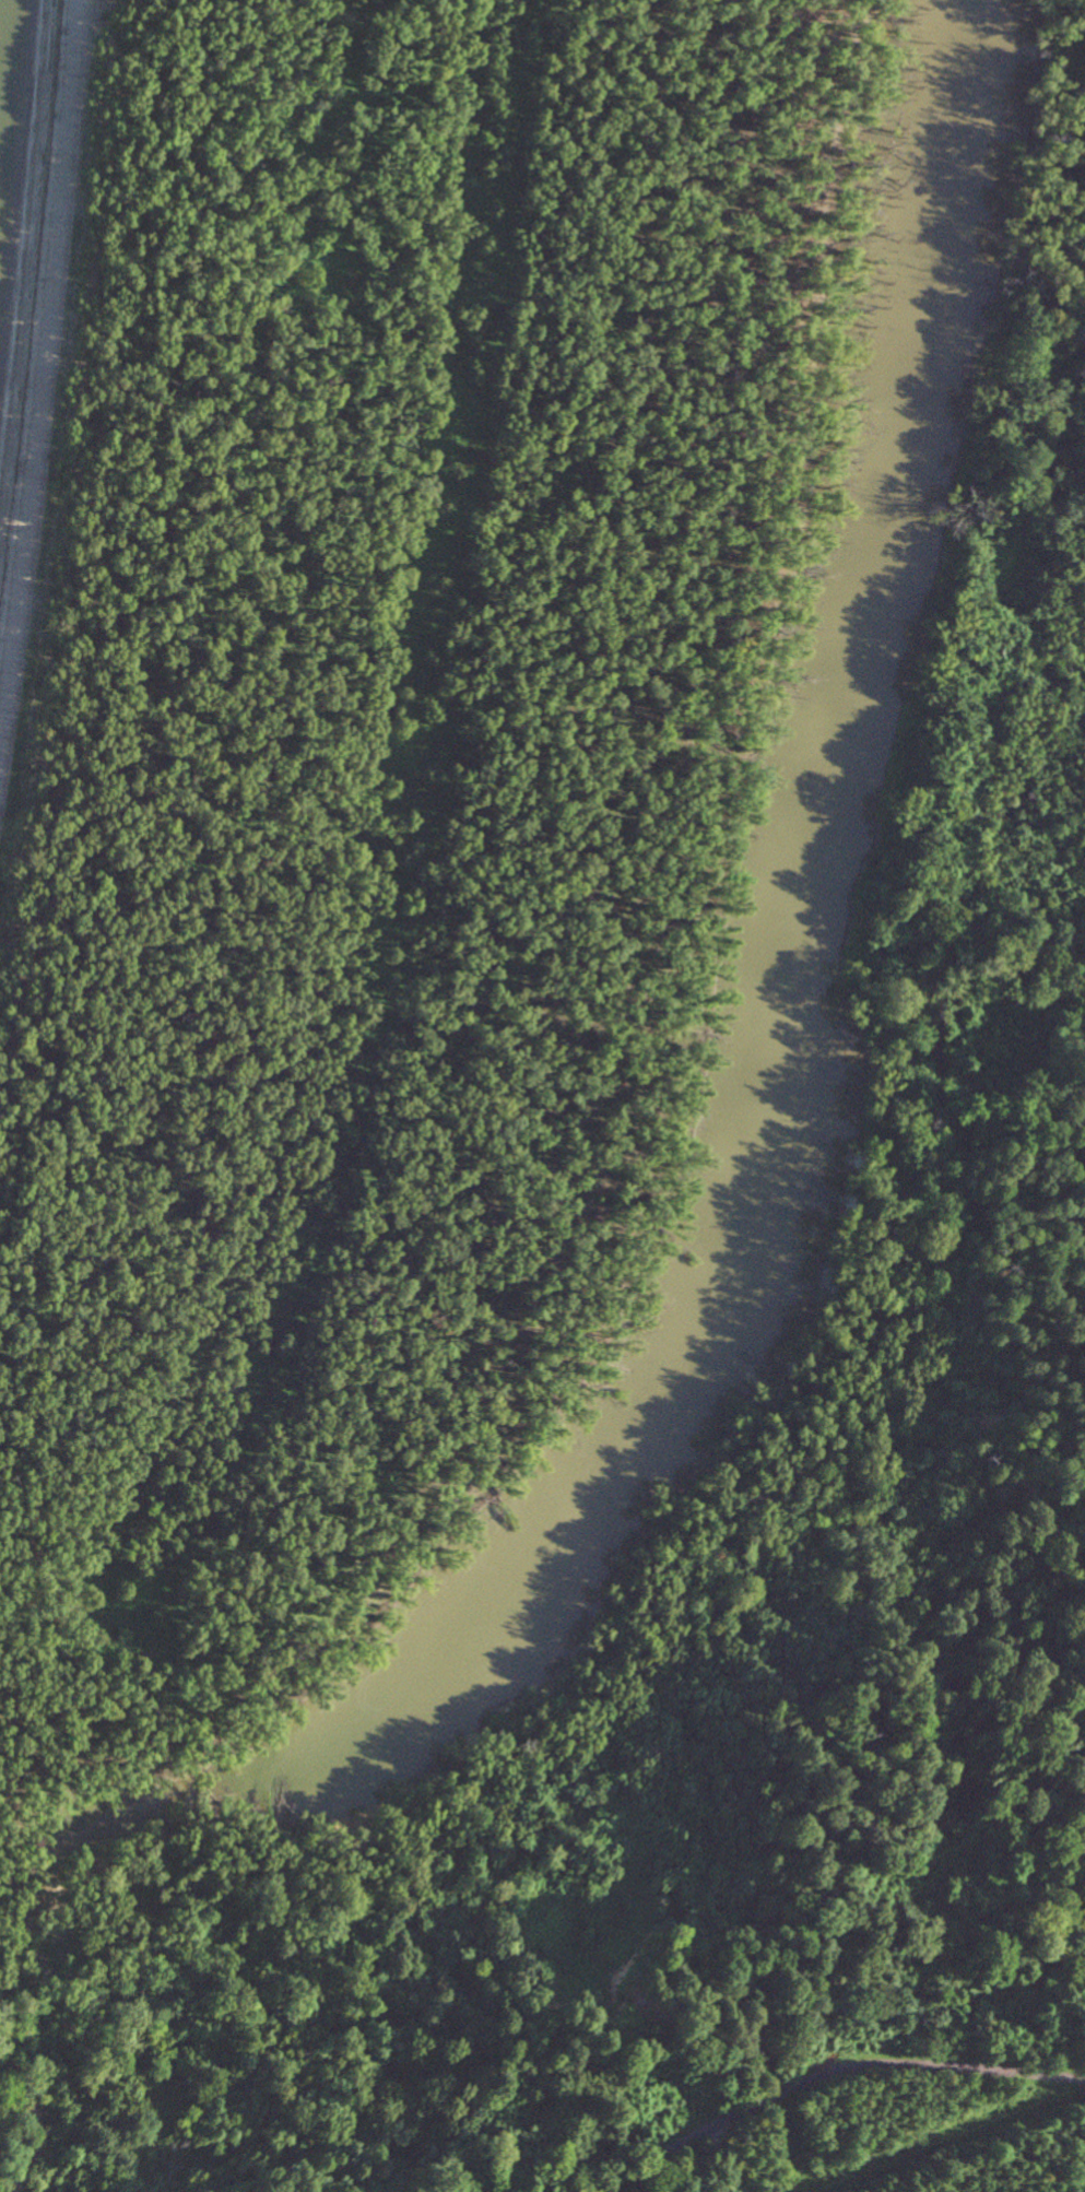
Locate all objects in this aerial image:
road: (805, 1953)
road: (827, 2069)
road: (696, 2166)

